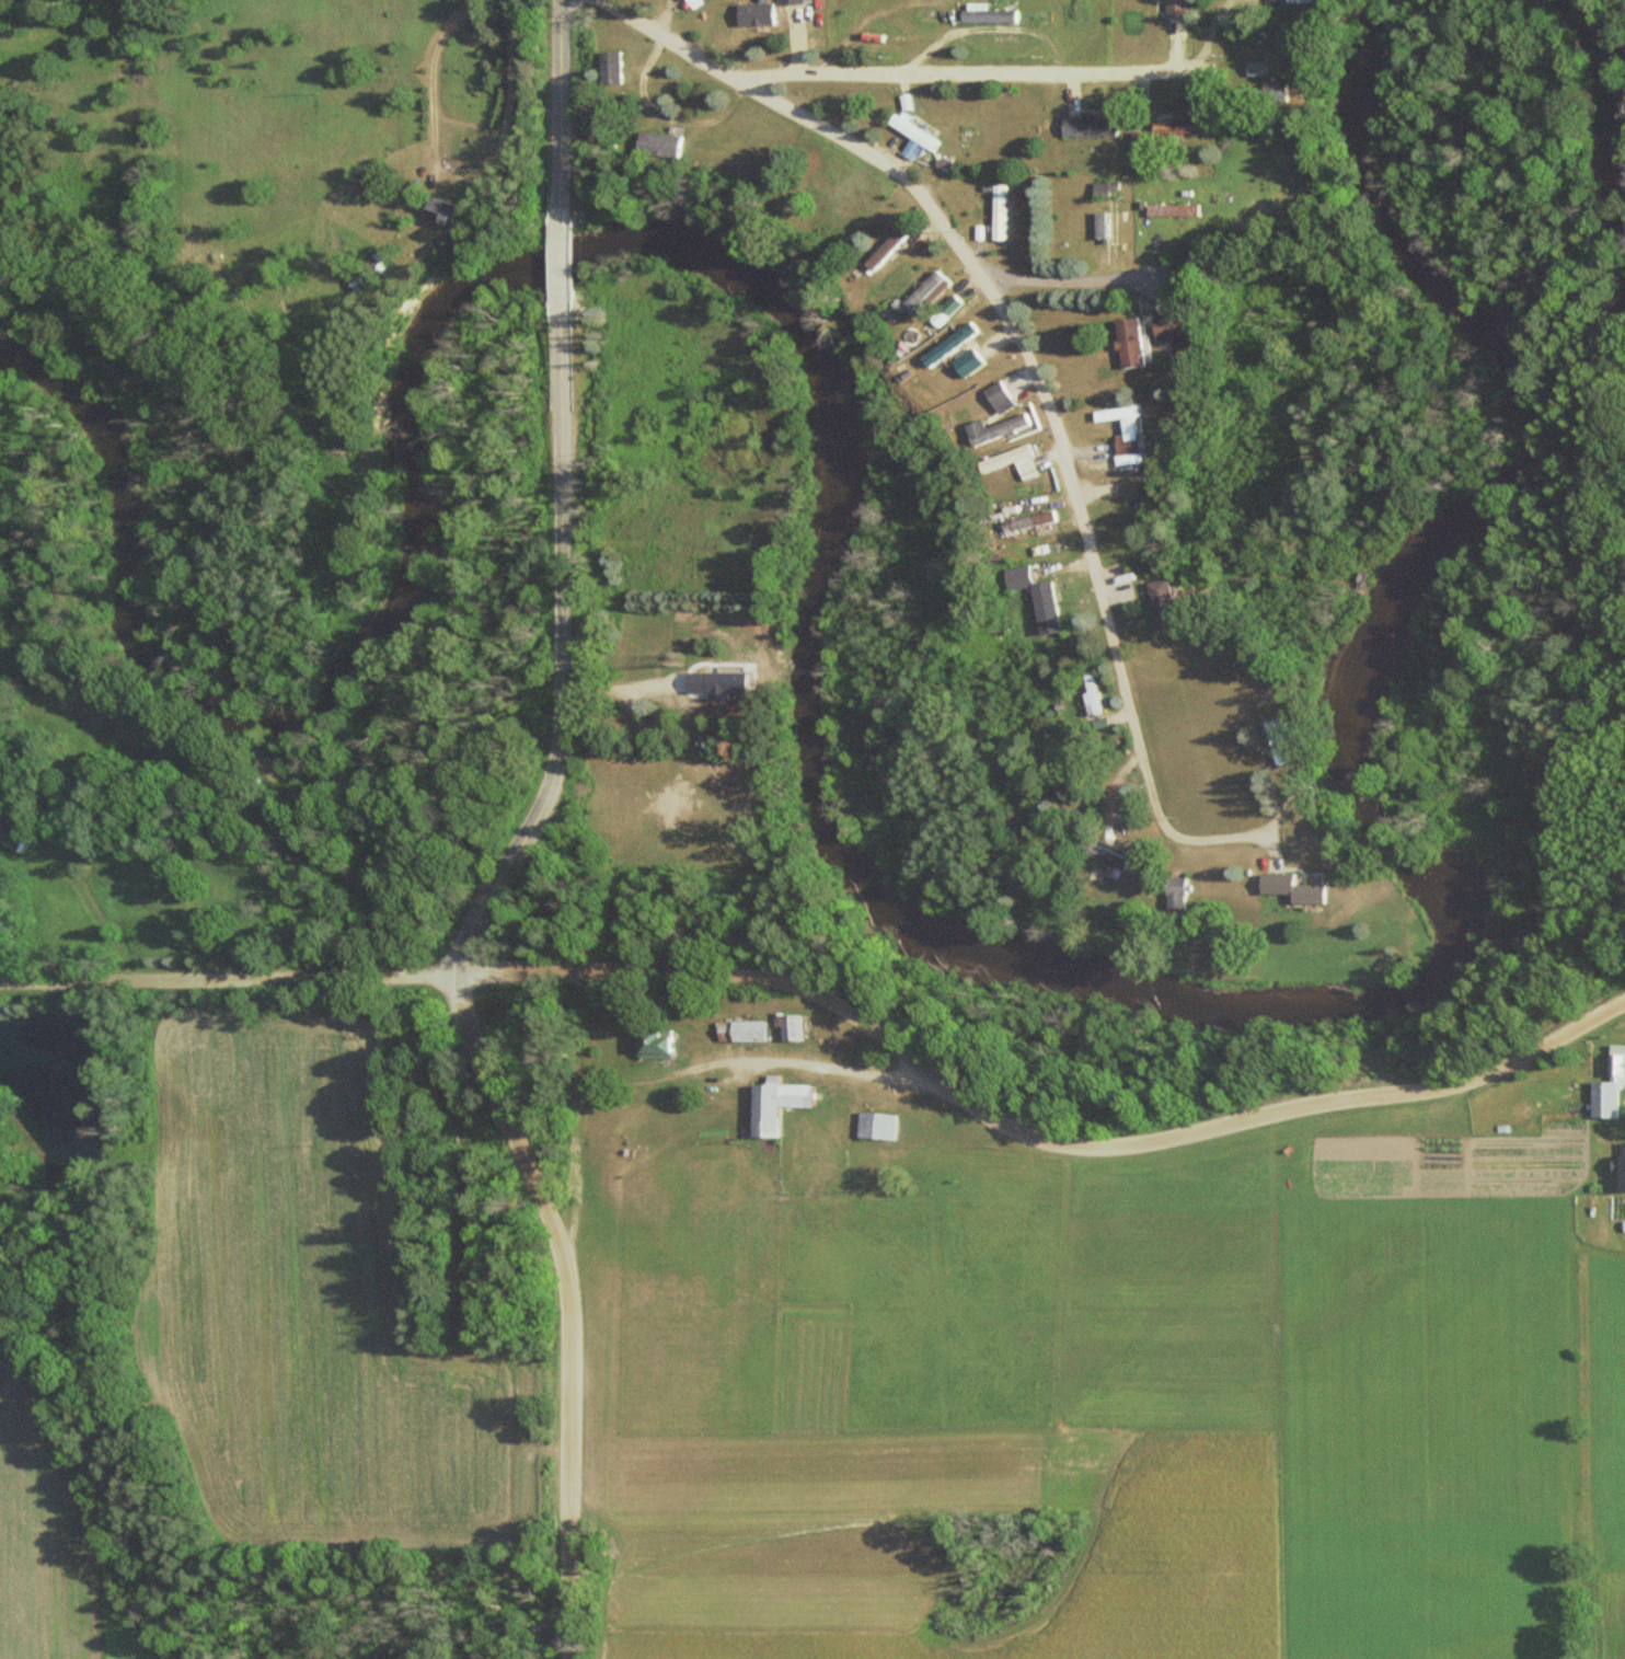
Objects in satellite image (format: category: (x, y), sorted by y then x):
building: (1296, 1)
building: (1174, 8)
building: (618, 69)
road: (953, 76)
road: (556, 112)
building: (1085, 126)
building: (1178, 128)
building: (909, 131)
river: (1606, 137)
road: (461, 170)
building: (370, 178)
building: (454, 211)
building: (1162, 211)
building: (998, 214)
building: (1105, 222)
road: (562, 265)
road: (1062, 286)
building: (920, 293)
building: (1164, 327)
building: (1126, 342)
building: (948, 345)
building: (965, 362)
road: (1034, 368)
building: (996, 398)
building: (1111, 414)
building: (993, 429)
building: (1123, 445)
building: (1006, 462)
road: (1001, 590)
building: (1033, 598)
road: (561, 649)
building: (712, 684)
road: (78, 692)
road: (623, 693)
building: (1087, 693)
road: (1100, 752)
river: (807, 788)
road: (83, 852)
building: (1102, 855)
building: (1269, 885)
building: (1304, 892)
building: (1172, 899)
road: (227, 978)
building: (786, 1028)
building: (736, 1032)
building: (667, 1044)
road: (680, 1070)
building: (1606, 1088)
building: (760, 1110)
building: (873, 1127)
road: (1028, 1133)
building: (1618, 1173)
road: (567, 1302)

